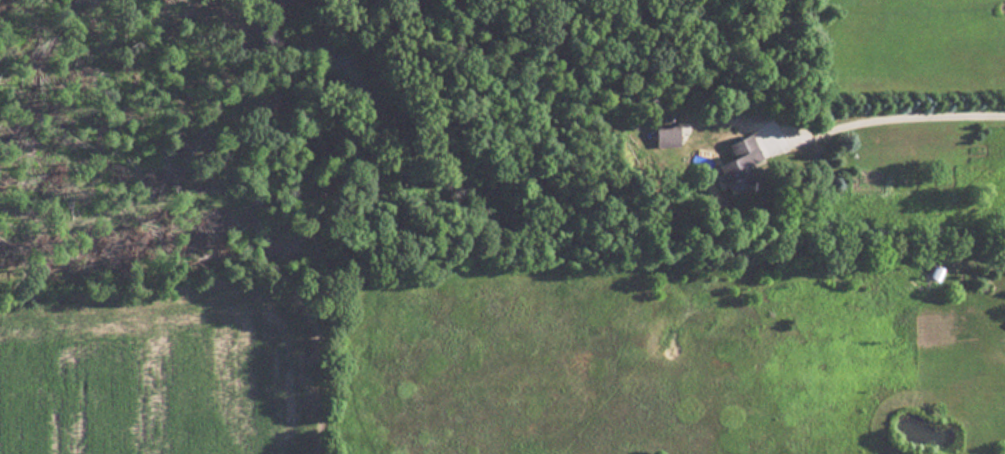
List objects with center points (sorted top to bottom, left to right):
road: (890, 112)
building: (664, 134)
building: (737, 164)

